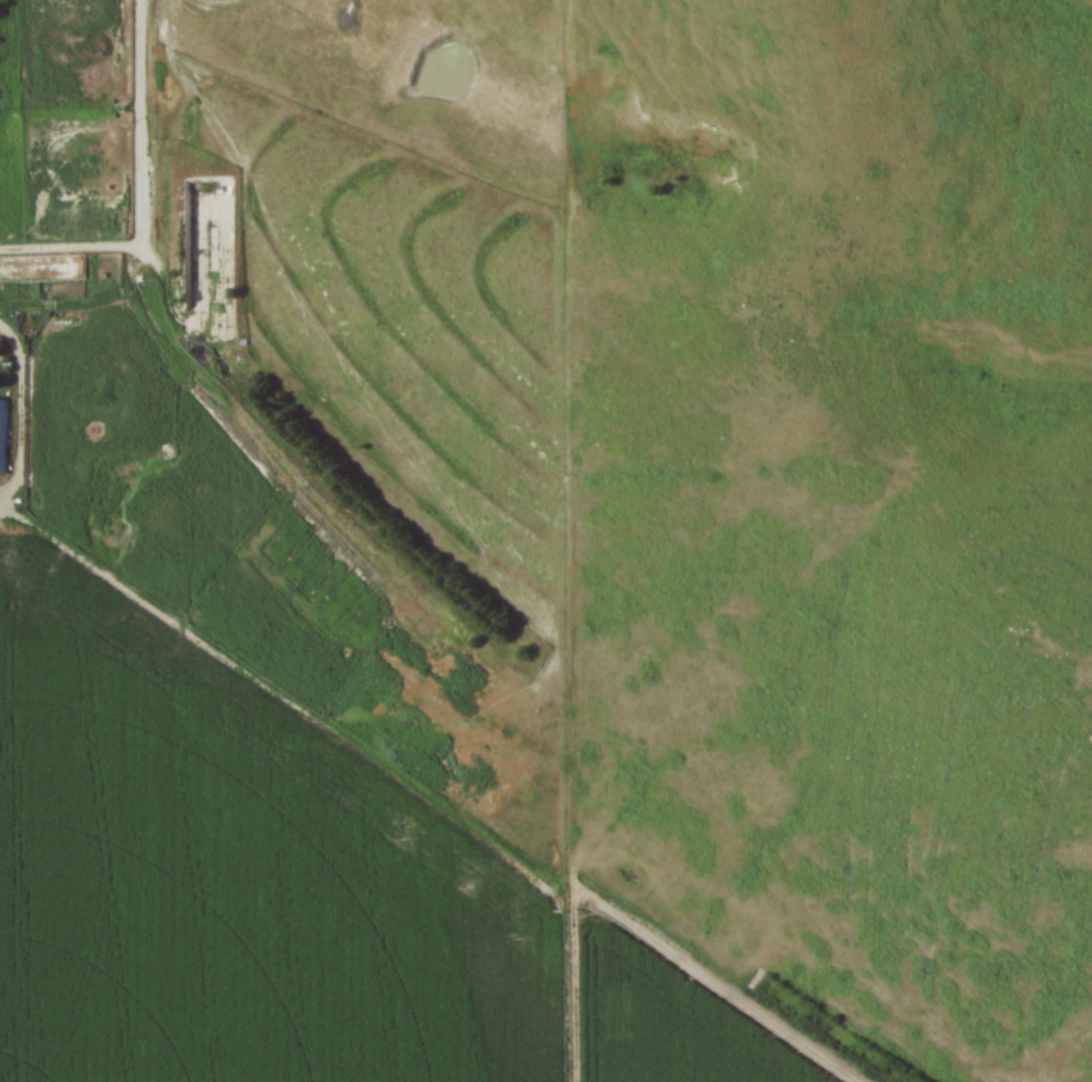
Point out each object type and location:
road: (172, 354)
building: (1, 432)
crop: (287, 896)

